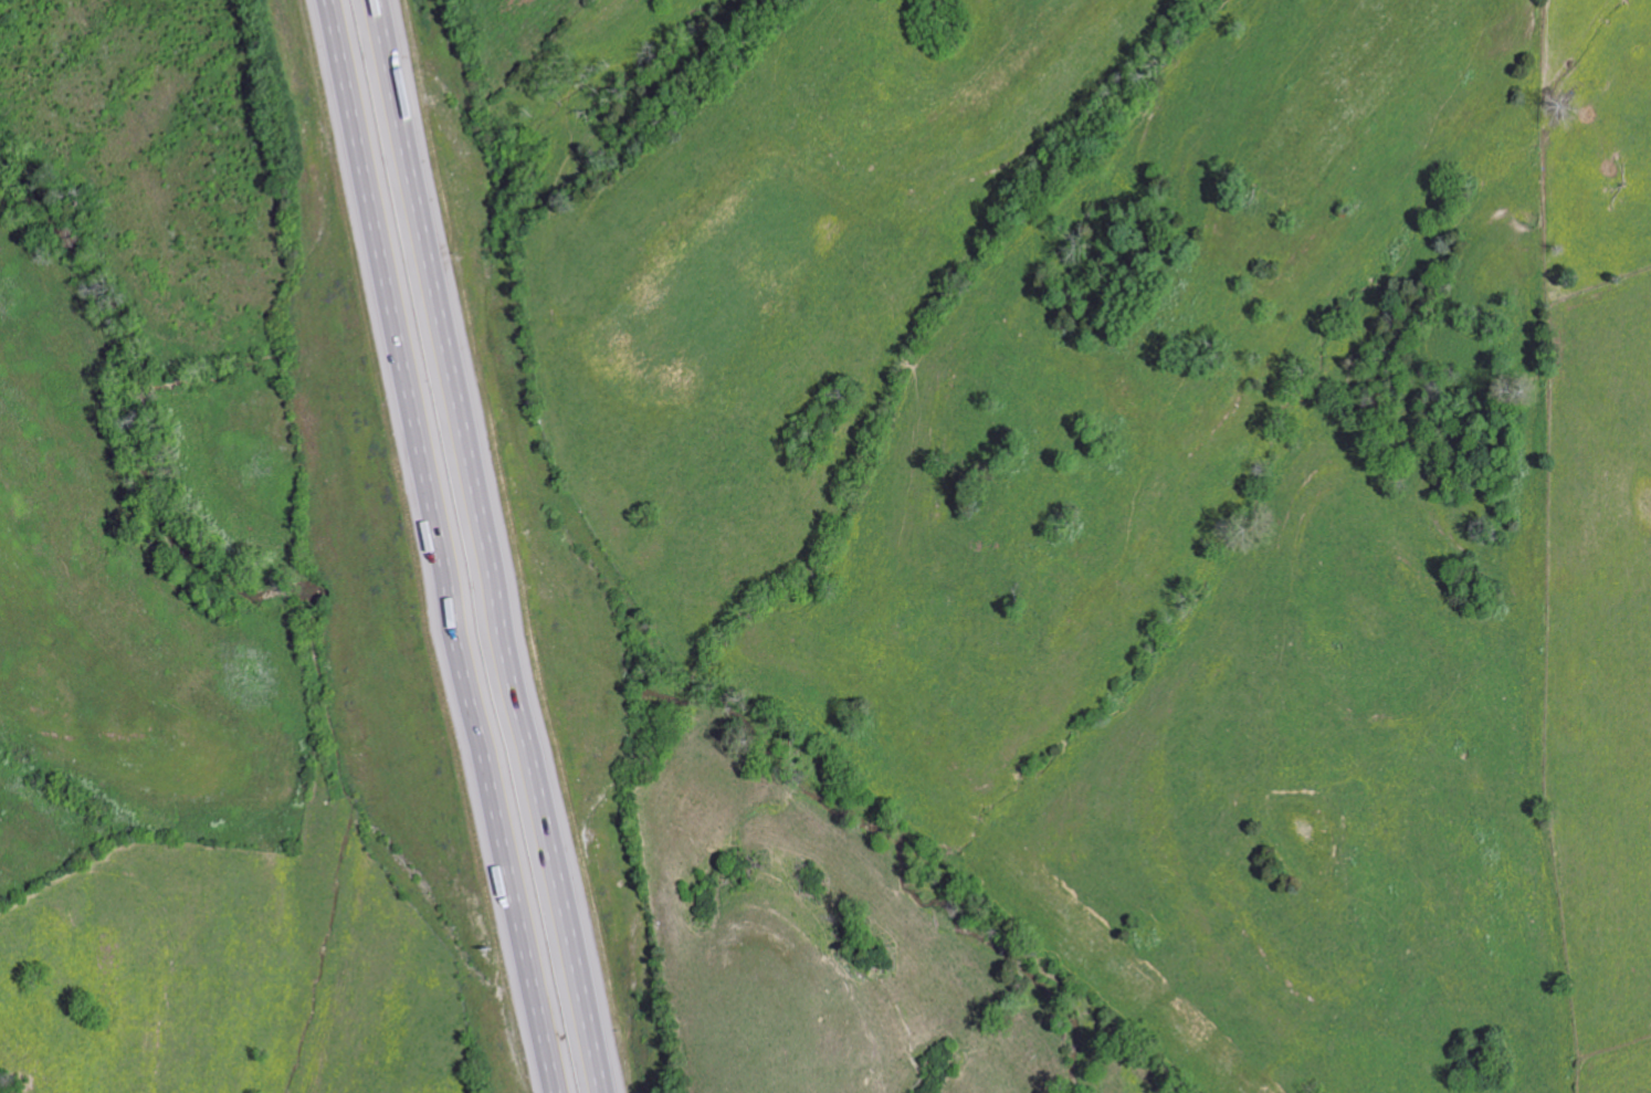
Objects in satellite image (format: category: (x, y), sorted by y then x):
road: (442, 546)
road: (490, 546)

